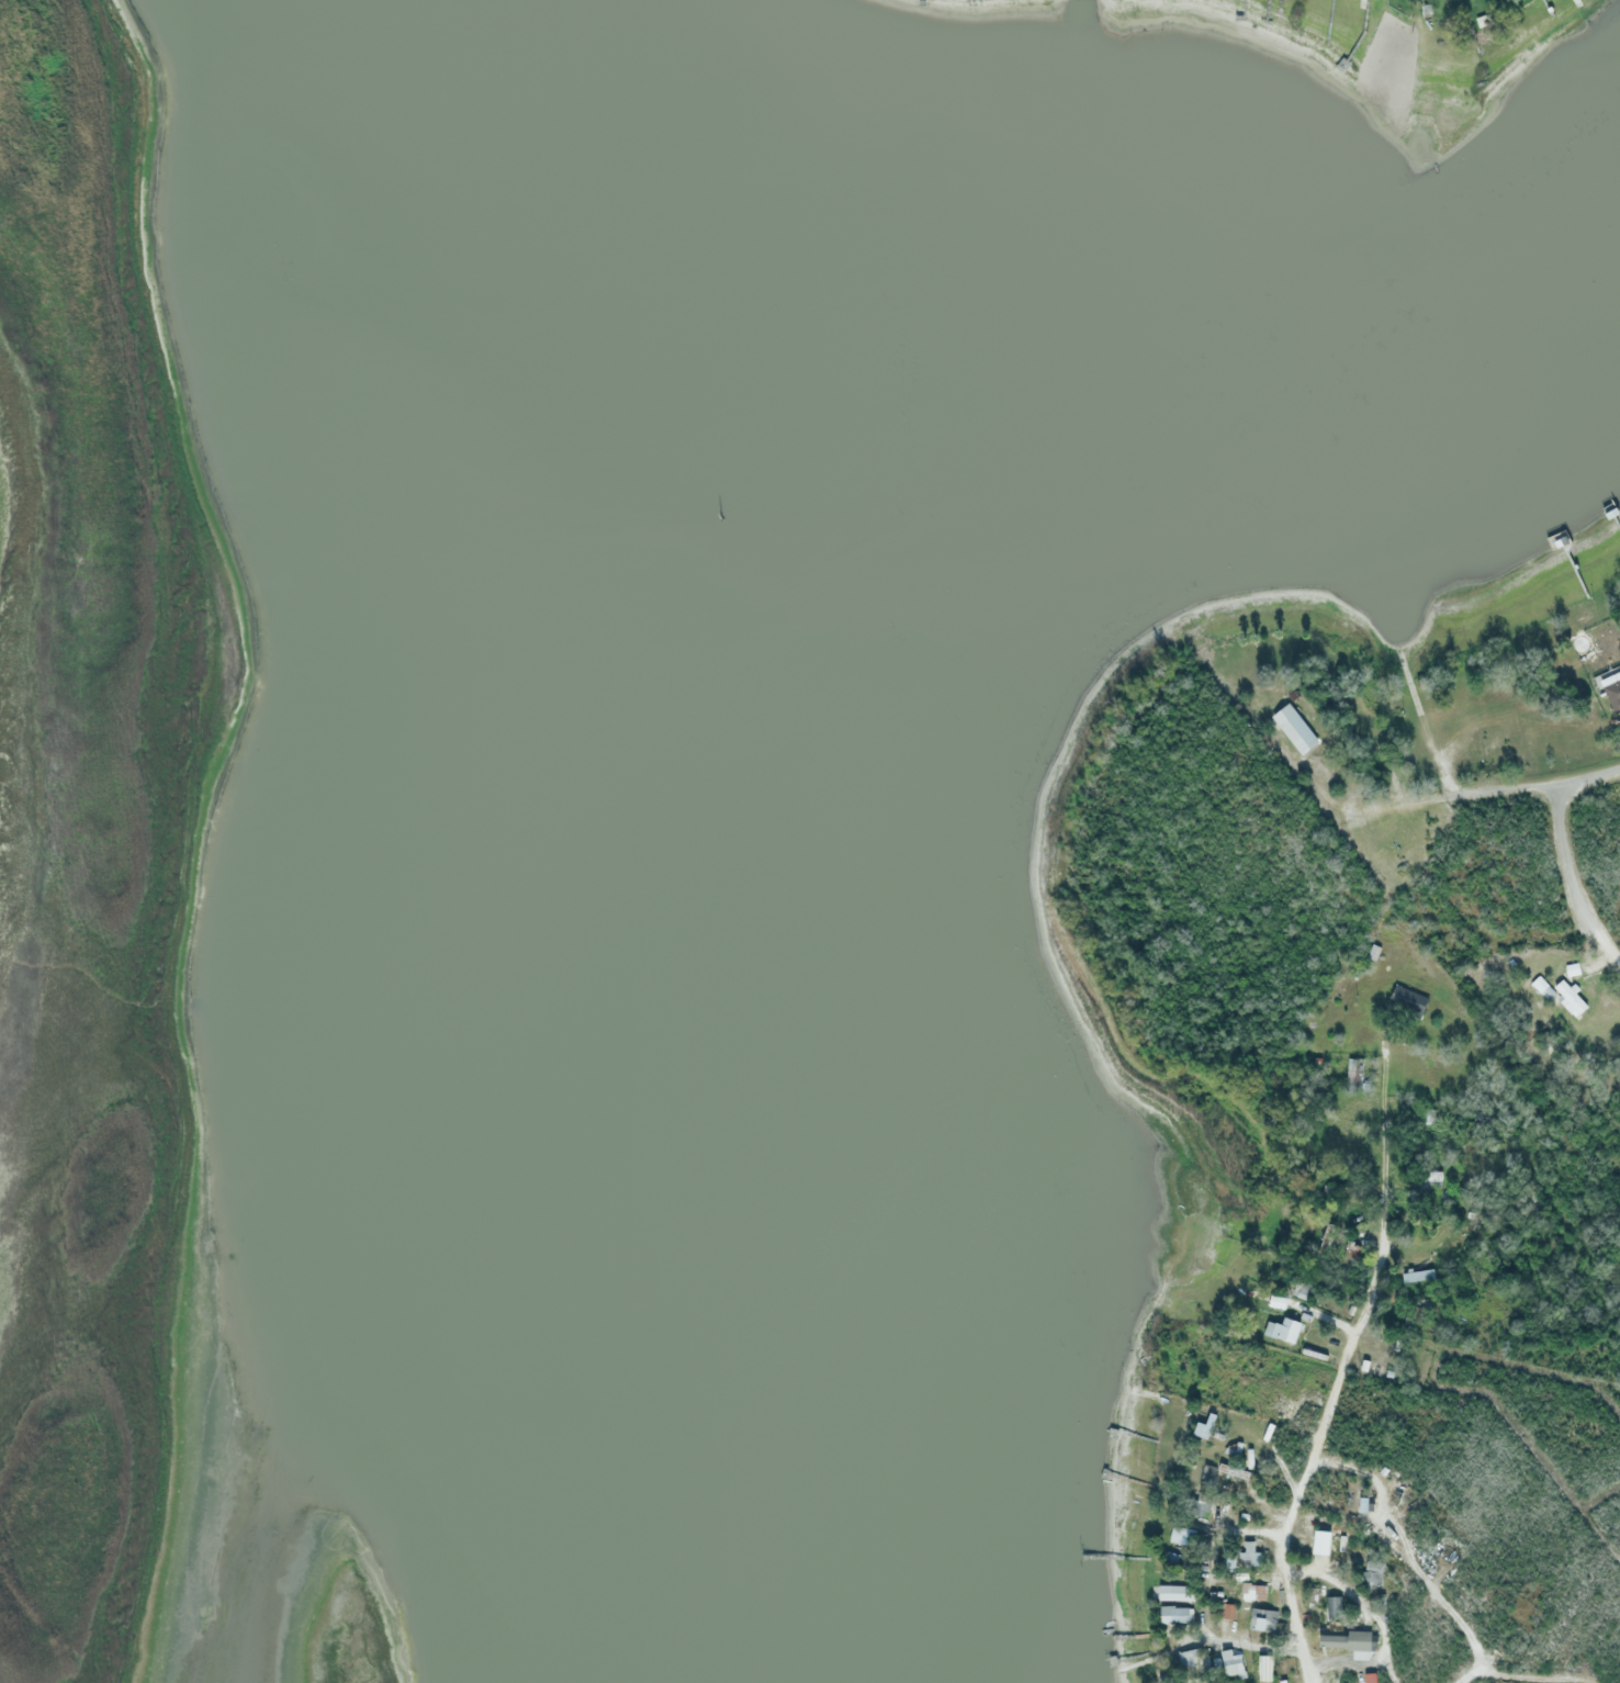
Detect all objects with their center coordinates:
building: (1611, 685)
building: (1296, 730)
road: (1458, 795)
road: (1560, 834)
road: (1608, 949)
building: (1374, 952)
building: (1573, 970)
building: (1544, 989)
building: (1572, 999)
building: (1408, 1003)
building: (1355, 1076)
building: (1427, 1117)
building: (1429, 1178)
building: (1339, 1189)
building: (1325, 1245)
building: (1349, 1249)
building: (1417, 1276)
building: (1276, 1301)
building: (1413, 1311)
building: (1306, 1317)
building: (1283, 1329)
building: (1314, 1353)
building: (1364, 1365)
building: (1204, 1426)
building: (1269, 1432)
road: (1323, 1437)
building: (1235, 1471)
building: (1202, 1503)
building: (1182, 1536)
building: (1250, 1553)
building: (1371, 1577)
building: (1175, 1592)
building: (1253, 1592)
building: (1334, 1607)
building: (1229, 1612)
building: (1175, 1614)
building: (1263, 1619)
building: (1348, 1639)
building: (1191, 1658)
building: (1233, 1663)
building: (1263, 1669)
building: (1370, 1678)
building: (1282, 1681)

